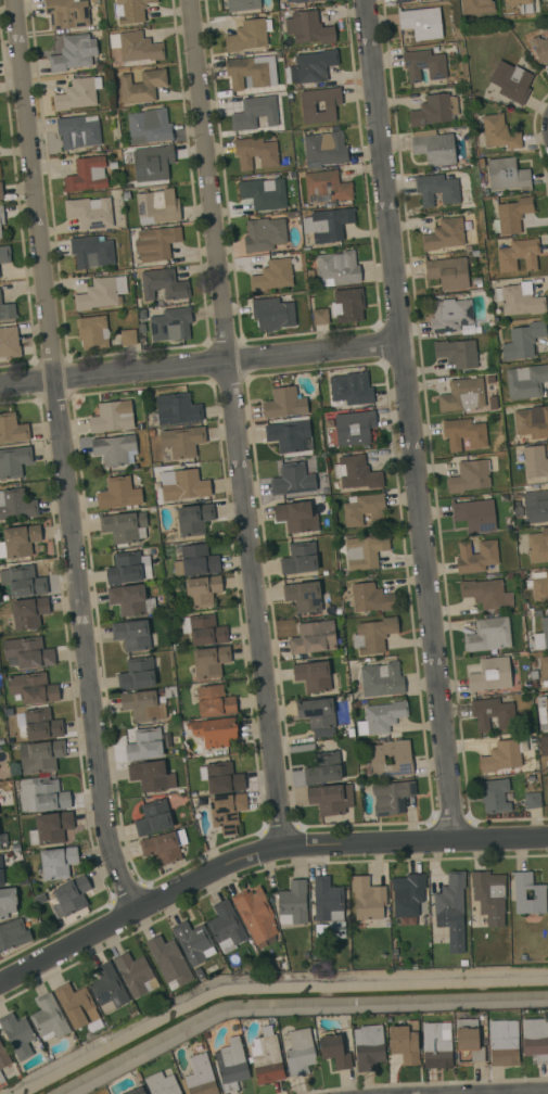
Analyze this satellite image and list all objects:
building: (328, 0)
building: (547, 0)
building: (403, 1)
building: (297, 2)
building: (242, 4)
building: (520, 5)
building: (476, 7)
building: (130, 10)
building: (66, 13)
building: (421, 23)
building: (308, 28)
building: (246, 36)
building: (136, 47)
building: (539, 49)
building: (74, 53)
building: (313, 66)
building: (423, 66)
building: (246, 73)
building: (511, 81)
building: (142, 86)
building: (76, 94)
building: (307, 109)
building: (434, 110)
building: (255, 113)
building: (149, 127)
building: (78, 131)
building: (499, 132)
building: (326, 148)
building: (433, 148)
building: (255, 152)
building: (151, 163)
building: (87, 175)
building: (506, 175)
building: (327, 187)
building: (436, 189)
building: (1, 192)
building: (264, 193)
building: (126, 195)
building: (157, 206)
building: (90, 212)
building: (1, 215)
building: (511, 215)
building: (328, 224)
building: (0, 233)
building: (264, 234)
building: (444, 234)
building: (157, 242)
building: (92, 252)
building: (4, 254)
building: (519, 255)
building: (337, 268)
building: (448, 271)
building: (272, 275)
building: (163, 284)
building: (101, 293)
building: (519, 300)
building: (349, 304)
building: (8, 310)
building: (273, 313)
building: (142, 315)
building: (450, 315)
building: (320, 316)
building: (171, 325)
building: (142, 329)
building: (468, 329)
building: (92, 332)
building: (128, 336)
building: (523, 341)
building: (9, 342)
building: (457, 353)
road: (201, 365)
building: (493, 379)
building: (526, 381)
building: (351, 389)
building: (462, 395)
building: (284, 403)
building: (495, 405)
building: (177, 409)
building: (112, 417)
road: (409, 420)
building: (532, 422)
road: (232, 423)
building: (354, 427)
building: (12, 429)
building: (464, 433)
building: (288, 435)
building: (182, 441)
building: (114, 448)
road: (67, 457)
building: (533, 460)
building: (13, 461)
building: (356, 472)
building: (470, 475)
building: (293, 479)
building: (183, 485)
building: (118, 493)
building: (16, 505)
building: (535, 507)
building: (364, 509)
building: (461, 516)
building: (296, 517)
building: (193, 519)
building: (124, 527)
building: (18, 540)
building: (538, 546)
building: (365, 551)
building: (475, 557)
building: (300, 559)
building: (195, 560)
building: (127, 569)
building: (23, 581)
building: (539, 586)
building: (201, 591)
building: (486, 594)
building: (303, 596)
building: (369, 598)
building: (128, 599)
building: (151, 605)
building: (28, 612)
building: (204, 629)
building: (132, 634)
building: (373, 635)
building: (488, 635)
building: (541, 635)
building: (314, 637)
building: (28, 652)
building: (211, 661)
building: (544, 671)
building: (137, 674)
building: (490, 675)
building: (313, 676)
building: (381, 679)
building: (33, 688)
building: (214, 701)
building: (142, 705)
building: (543, 712)
building: (316, 713)
building: (493, 713)
building: (382, 717)
building: (41, 725)
building: (214, 732)
building: (148, 745)
building: (546, 746)
building: (504, 755)
building: (40, 756)
building: (403, 761)
building: (323, 768)
building: (149, 776)
building: (220, 778)
building: (41, 796)
building: (392, 797)
building: (495, 797)
building: (330, 799)
building: (532, 800)
building: (227, 812)
building: (153, 818)
building: (50, 828)
building: (2, 842)
building: (164, 847)
road: (258, 851)
building: (58, 863)
building: (1, 873)
building: (539, 894)
building: (408, 895)
building: (489, 895)
building: (71, 896)
building: (368, 899)
building: (7, 902)
building: (293, 903)
building: (329, 906)
building: (451, 911)
building: (256, 916)
building: (226, 927)
building: (13, 933)
building: (194, 942)
building: (168, 962)
building: (135, 975)
building: (107, 989)
building: (76, 1005)
building: (49, 1018)
building: (17, 1035)
building: (535, 1040)
building: (405, 1043)
building: (470, 1043)
building: (437, 1045)
building: (502, 1045)
building: (369, 1047)
building: (334, 1051)
building: (300, 1052)
building: (3, 1057)
building: (266, 1057)
building: (231, 1065)
building: (199, 1077)
building: (1, 1079)
building: (162, 1084)
building: (136, 1091)

